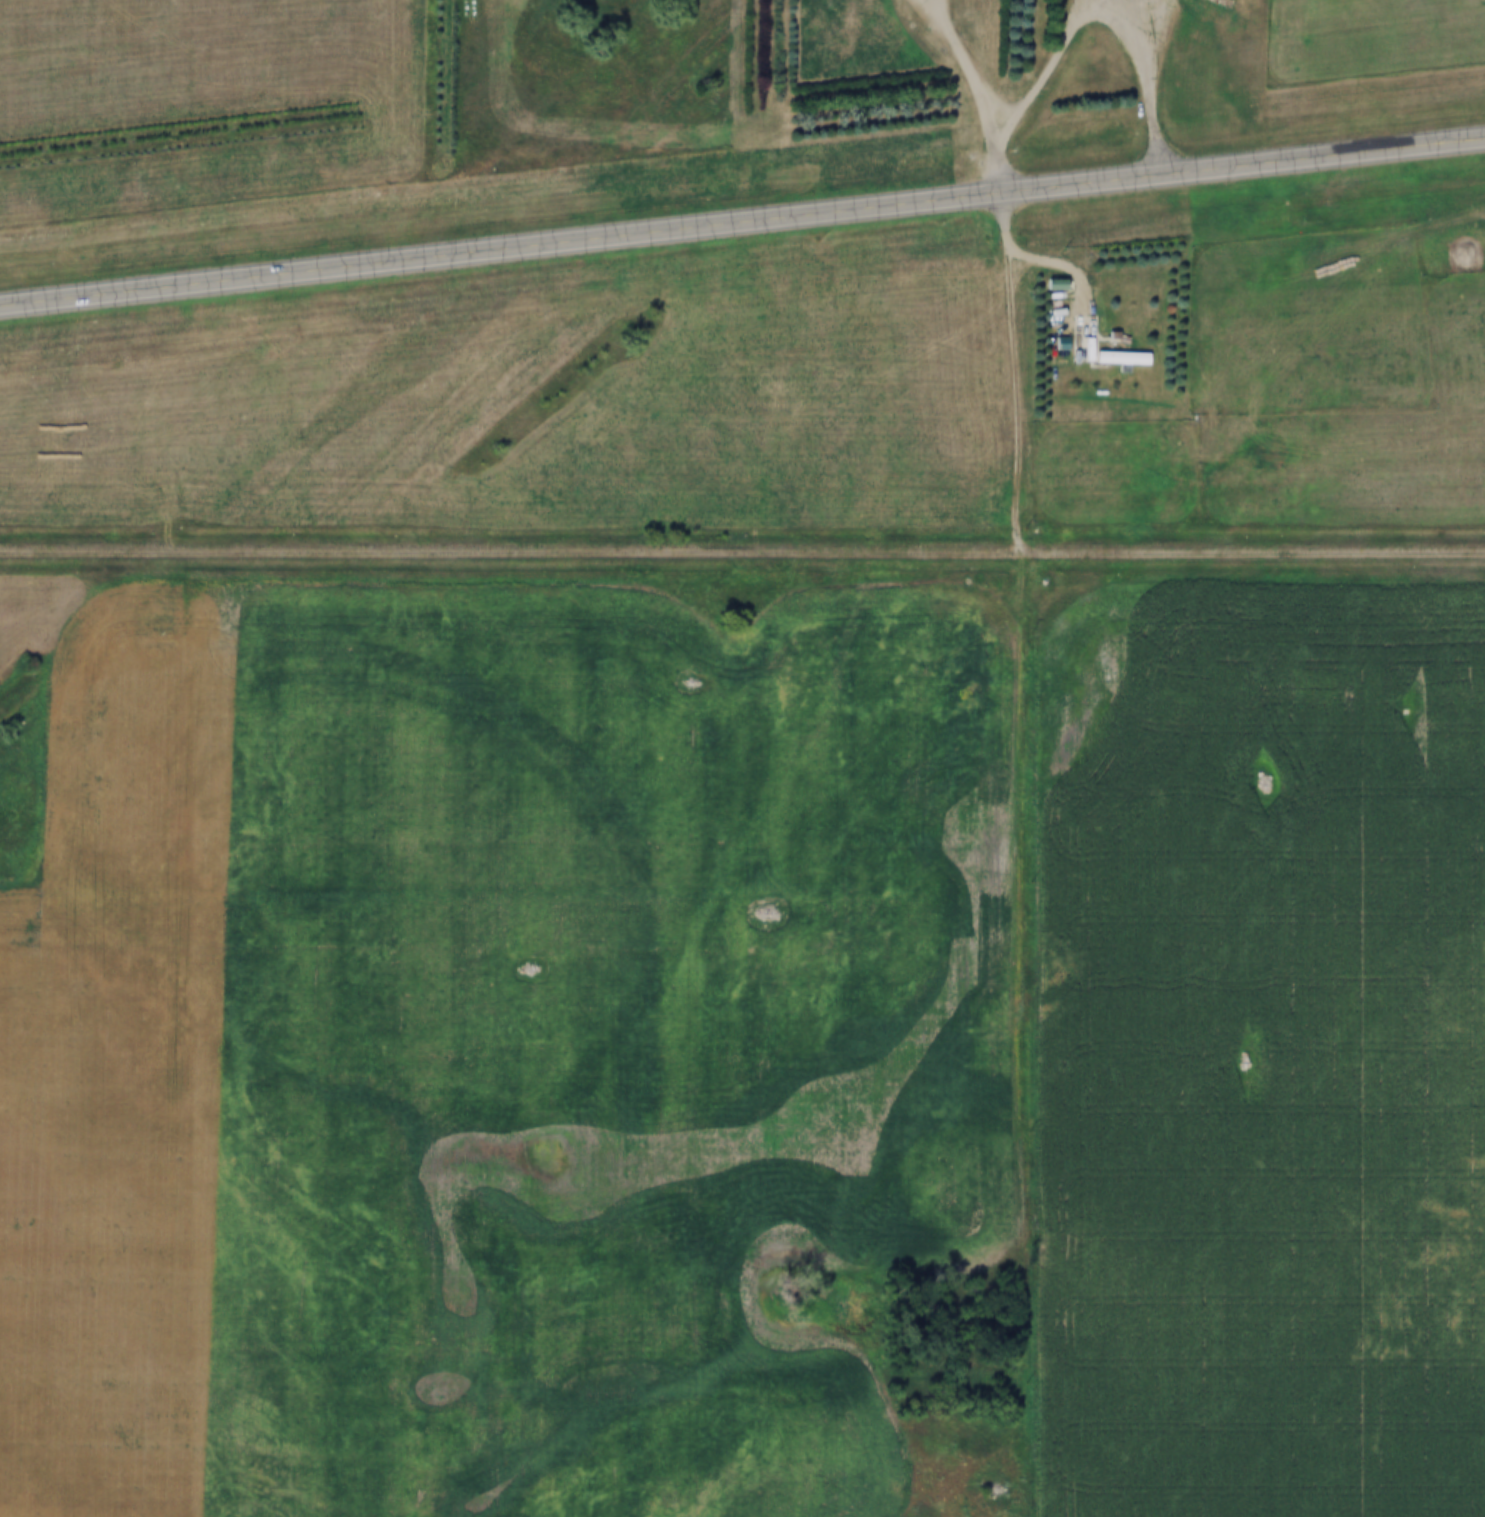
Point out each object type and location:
road: (1086, 14)
road: (971, 67)
road: (742, 224)
road: (1067, 267)
building: (1106, 348)
road: (742, 553)
road: (1021, 883)

